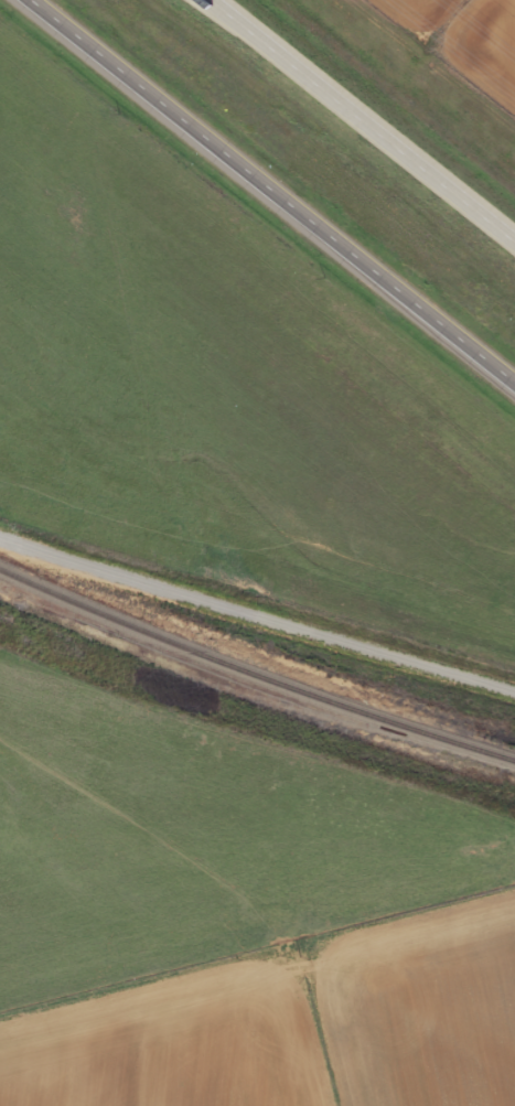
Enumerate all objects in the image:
road: (363, 119)
road: (271, 193)
road: (257, 614)
railway: (254, 674)

